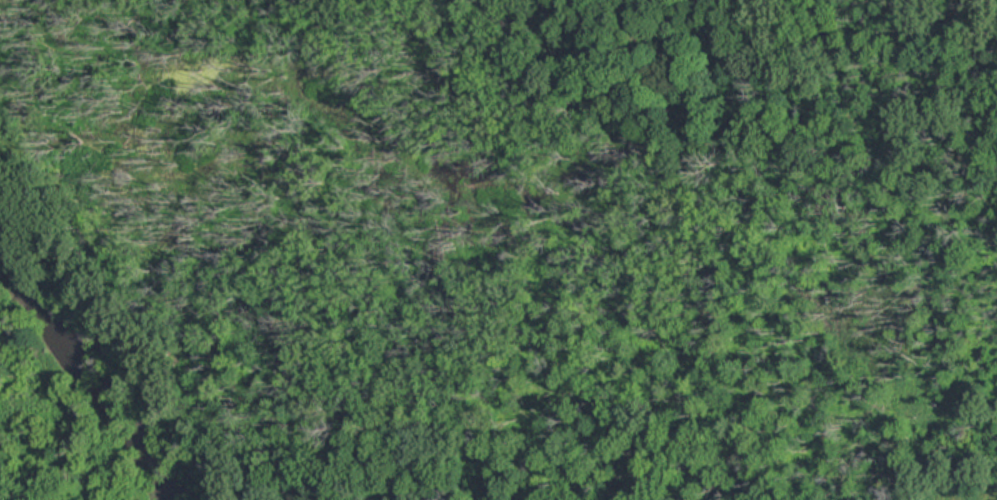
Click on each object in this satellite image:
river: (91, 373)

